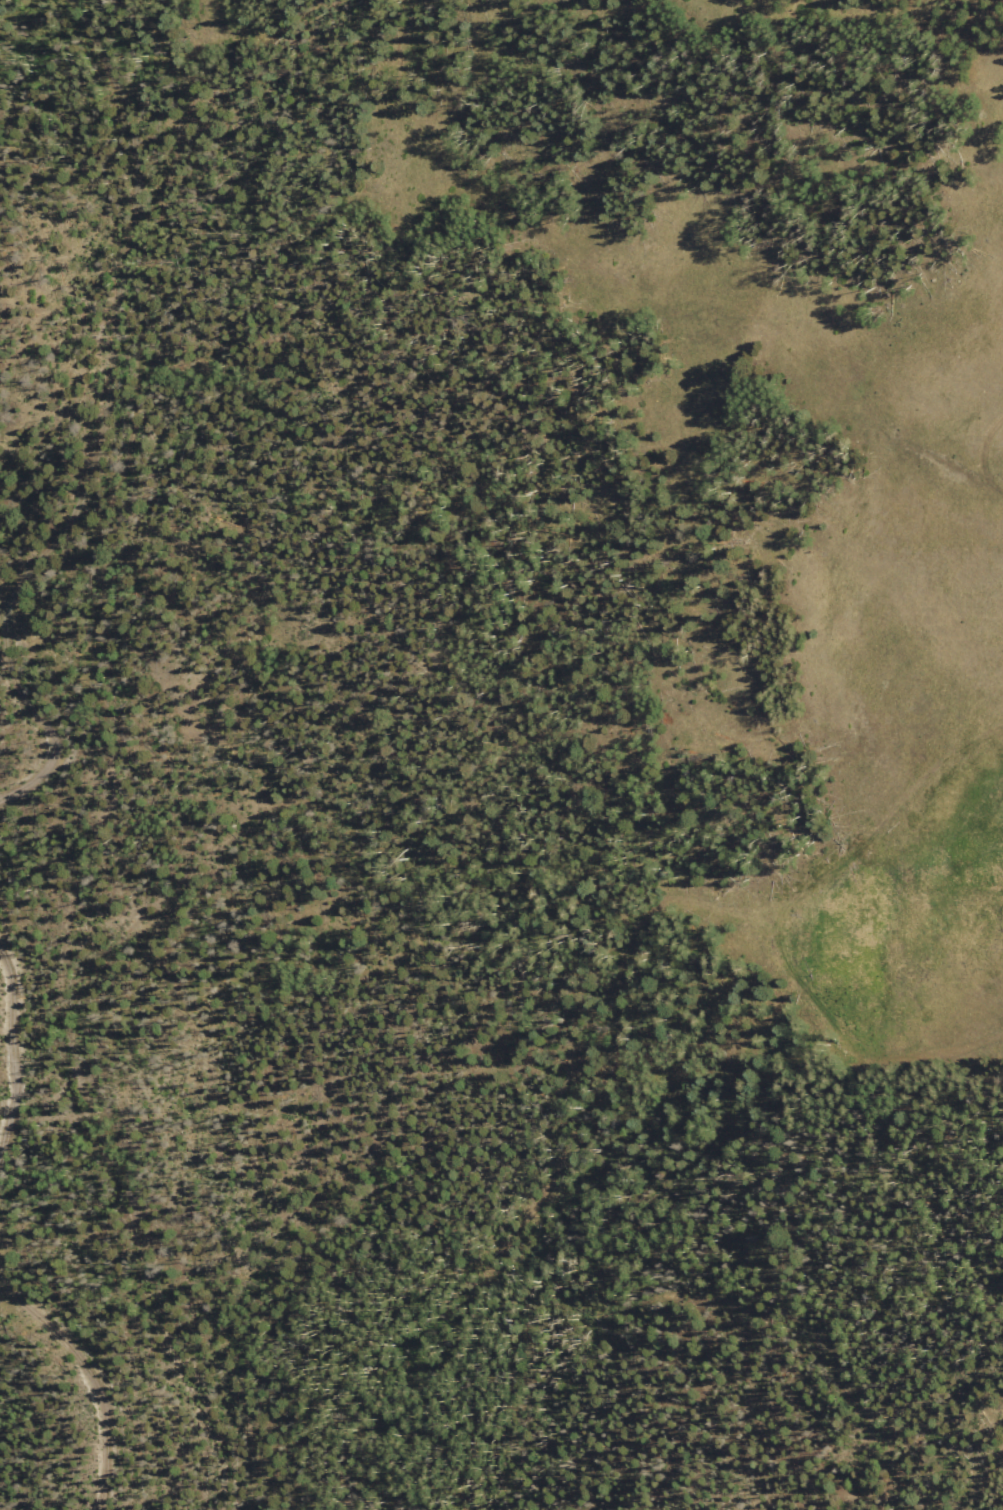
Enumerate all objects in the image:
road: (16, 686)
road: (66, 753)
road: (18, 1064)
road: (88, 1373)

